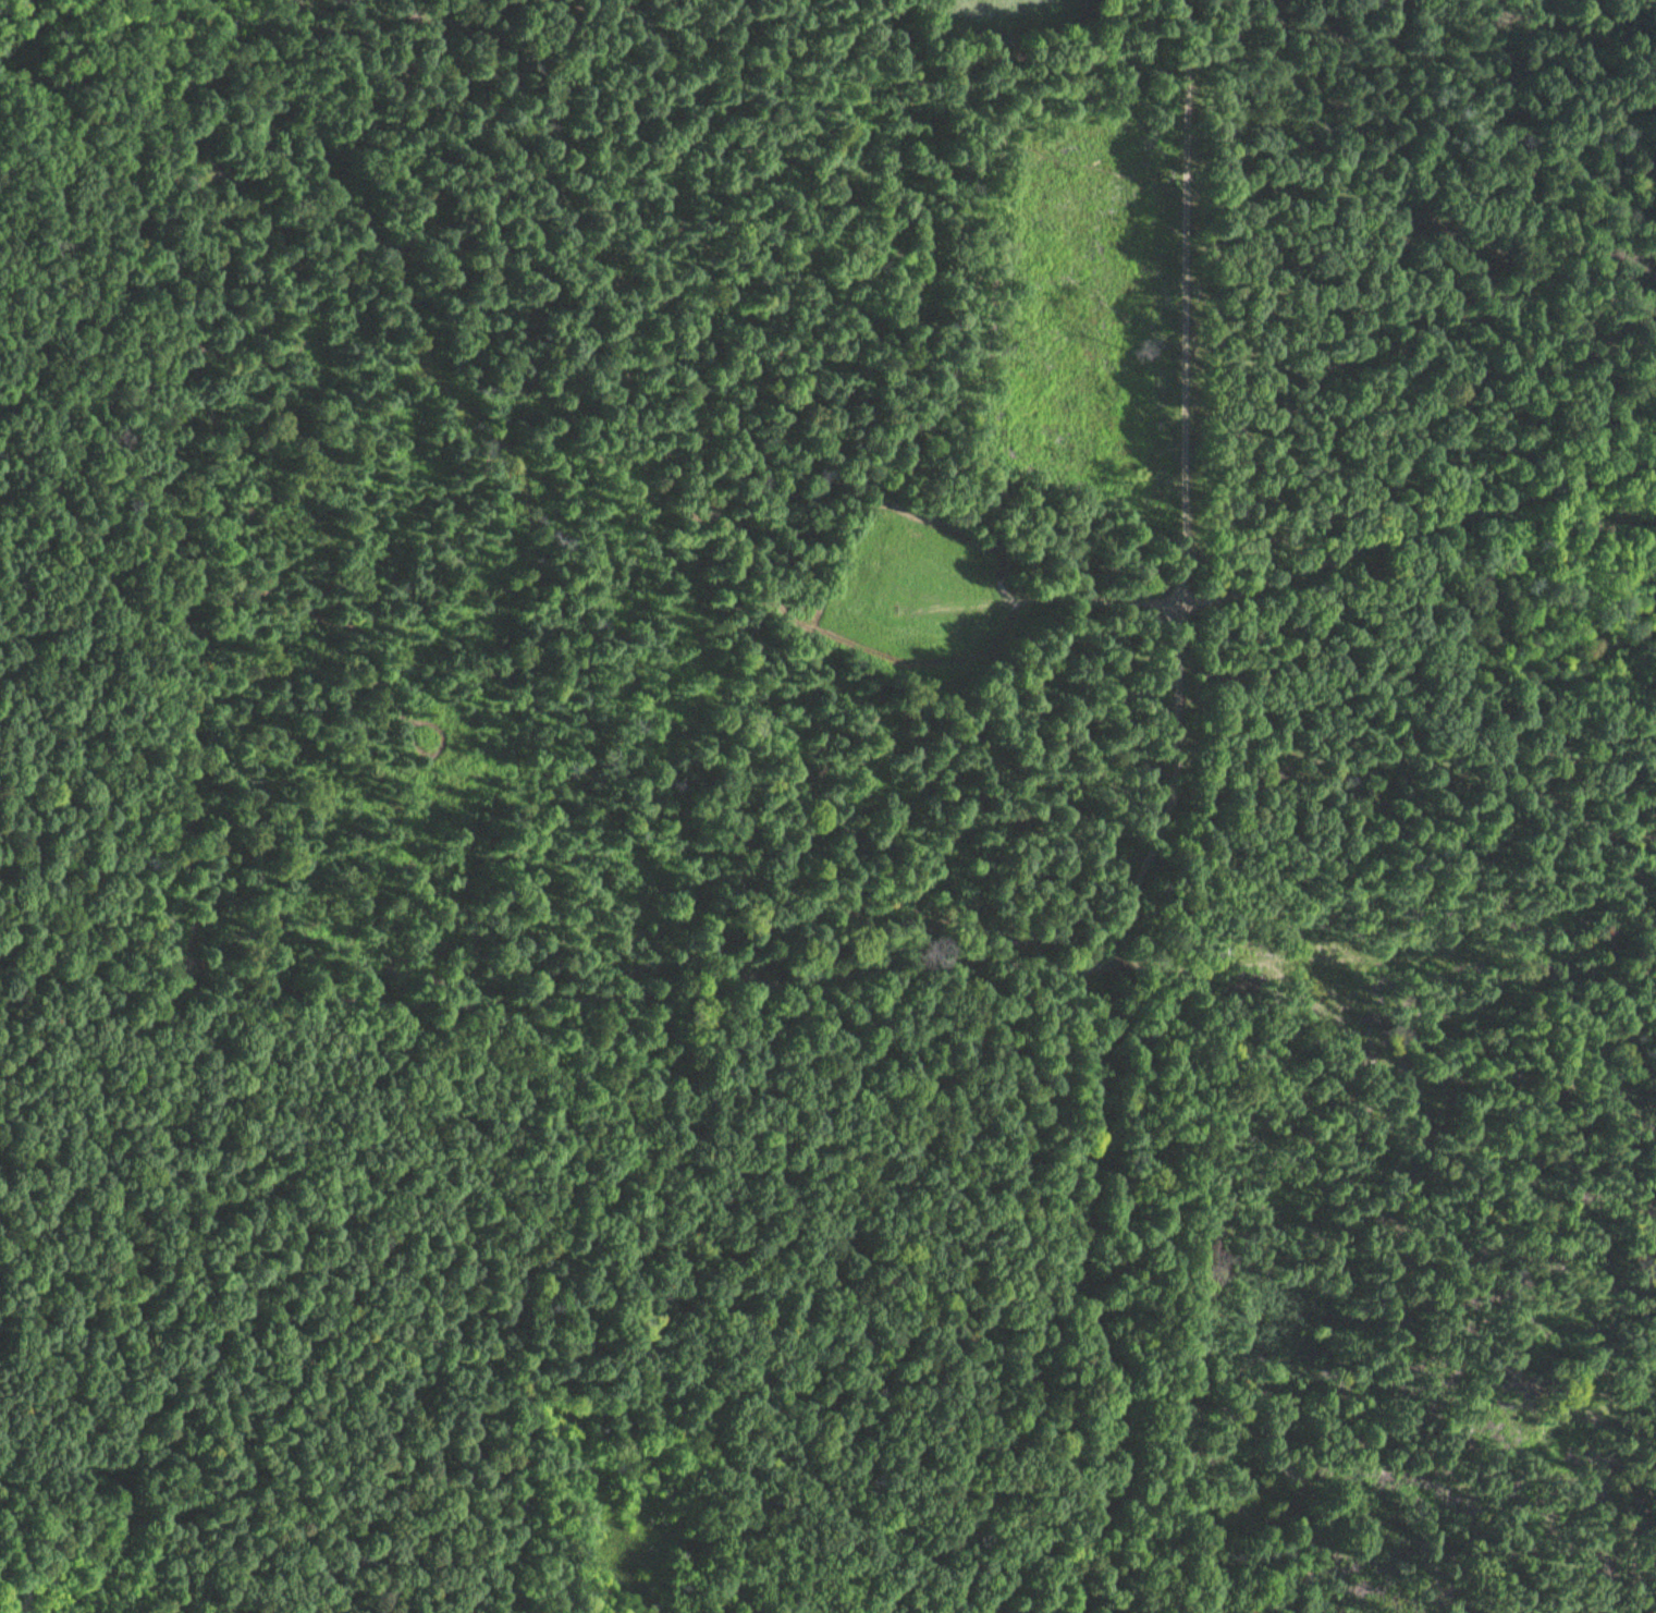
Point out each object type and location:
road: (1614, 280)
road: (1039, 965)

